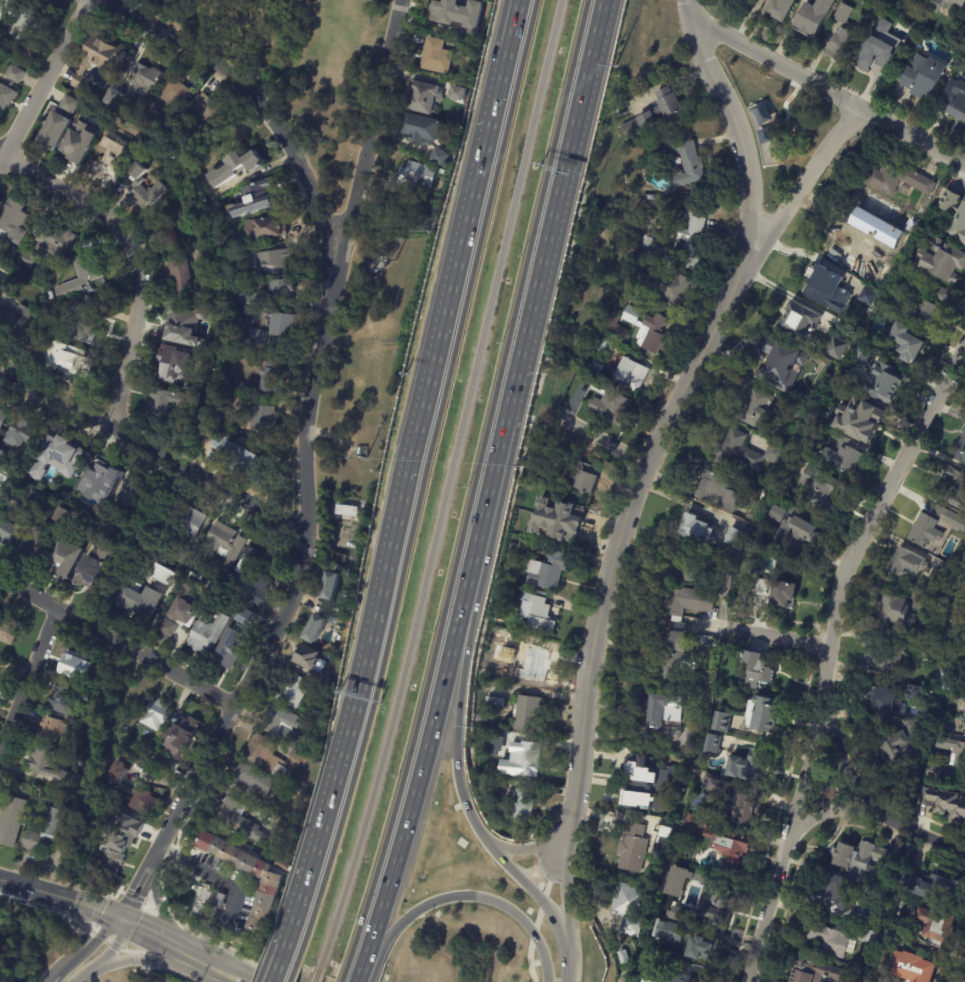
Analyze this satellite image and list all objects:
building: (741, 0)
building: (2, 1)
building: (945, 5)
building: (779, 8)
building: (813, 17)
building: (459, 18)
building: (31, 22)
building: (881, 25)
building: (840, 35)
building: (960, 40)
building: (875, 50)
building: (434, 57)
building: (98, 58)
park: (294, 68)
building: (17, 75)
building: (919, 76)
road: (43, 78)
building: (147, 80)
road: (830, 91)
building: (116, 93)
building: (457, 94)
building: (177, 95)
building: (420, 98)
building: (6, 99)
building: (955, 104)
road: (261, 108)
building: (620, 109)
building: (205, 111)
building: (653, 114)
road: (732, 118)
building: (60, 123)
building: (153, 123)
building: (420, 130)
building: (134, 137)
building: (82, 141)
building: (166, 142)
building: (147, 144)
building: (440, 157)
building: (105, 159)
building: (674, 160)
building: (686, 163)
building: (237, 166)
building: (412, 177)
road: (807, 178)
building: (896, 179)
building: (144, 190)
road: (70, 196)
building: (256, 196)
building: (623, 205)
building: (866, 209)
building: (955, 215)
building: (15, 222)
building: (170, 224)
building: (267, 228)
building: (56, 238)
building: (689, 238)
building: (890, 241)
building: (607, 247)
building: (841, 248)
building: (647, 250)
building: (884, 257)
building: (207, 258)
building: (26, 259)
building: (276, 261)
building: (941, 262)
building: (90, 265)
building: (183, 277)
building: (814, 283)
road: (538, 284)
building: (903, 285)
building: (15, 286)
building: (666, 287)
building: (283, 291)
building: (860, 295)
building: (248, 298)
building: (932, 307)
building: (15, 317)
building: (86, 320)
building: (612, 321)
building: (799, 321)
building: (181, 324)
building: (282, 325)
building: (644, 330)
road: (129, 336)
building: (259, 337)
building: (37, 340)
building: (902, 344)
building: (597, 345)
building: (835, 349)
building: (861, 355)
building: (69, 360)
building: (235, 364)
building: (777, 364)
building: (178, 365)
building: (273, 376)
building: (629, 376)
building: (883, 382)
building: (239, 383)
building: (581, 384)
building: (172, 404)
building: (609, 408)
building: (755, 409)
road: (85, 410)
building: (808, 416)
building: (264, 419)
building: (4, 421)
building: (858, 421)
building: (27, 433)
building: (210, 434)
road: (599, 439)
building: (961, 449)
building: (742, 453)
building: (841, 455)
building: (5, 458)
building: (64, 459)
building: (240, 459)
road: (180, 465)
road: (405, 476)
road: (306, 477)
building: (584, 477)
road: (423, 480)
road: (473, 481)
building: (99, 482)
building: (952, 487)
railway: (444, 488)
building: (715, 492)
building: (817, 493)
building: (137, 496)
building: (36, 499)
road: (247, 504)
building: (351, 511)
building: (778, 513)
building: (60, 515)
building: (189, 521)
building: (556, 521)
road: (625, 521)
building: (929, 523)
building: (96, 524)
building: (10, 529)
building: (694, 530)
building: (800, 535)
building: (106, 536)
building: (732, 537)
building: (38, 540)
building: (223, 546)
building: (67, 557)
building: (342, 559)
building: (907, 564)
building: (958, 564)
building: (684, 565)
building: (95, 567)
building: (263, 567)
building: (545, 569)
building: (511, 571)
building: (945, 575)
building: (171, 578)
building: (722, 580)
building: (964, 585)
building: (762, 587)
building: (200, 588)
building: (334, 588)
building: (781, 595)
building: (263, 599)
road: (47, 600)
building: (144, 602)
building: (684, 602)
building: (182, 612)
building: (535, 612)
building: (892, 613)
building: (345, 614)
building: (246, 619)
building: (176, 622)
building: (319, 628)
building: (698, 630)
building: (10, 631)
road: (100, 631)
building: (208, 632)
road: (777, 638)
building: (700, 640)
building: (235, 644)
building: (962, 647)
road: (832, 652)
building: (672, 658)
building: (889, 660)
building: (313, 662)
building: (532, 664)
road: (171, 669)
building: (756, 669)
building: (77, 672)
road: (29, 677)
building: (944, 683)
building: (294, 687)
building: (92, 697)
building: (65, 702)
building: (886, 702)
building: (491, 705)
road: (458, 708)
building: (653, 709)
building: (525, 713)
building: (156, 714)
building: (762, 714)
building: (963, 716)
building: (477, 718)
building: (719, 721)
building: (283, 723)
building: (940, 724)
building: (56, 731)
building: (185, 732)
building: (901, 740)
building: (691, 743)
building: (710, 744)
building: (493, 745)
building: (273, 758)
building: (959, 758)
building: (521, 760)
building: (167, 763)
building: (747, 766)
road: (422, 767)
building: (54, 768)
road: (844, 769)
building: (119, 773)
building: (253, 779)
building: (640, 782)
building: (717, 784)
building: (485, 785)
building: (67, 794)
building: (944, 802)
building: (146, 803)
building: (522, 805)
road: (835, 807)
building: (742, 809)
building: (13, 822)
building: (241, 822)
building: (964, 825)
road: (554, 832)
building: (125, 833)
building: (46, 834)
road: (921, 834)
building: (719, 839)
road: (569, 846)
building: (632, 848)
road: (512, 850)
building: (855, 857)
building: (114, 864)
building: (283, 864)
road: (208, 869)
road: (543, 870)
building: (272, 882)
building: (930, 887)
building: (832, 892)
road: (532, 893)
building: (718, 896)
building: (216, 897)
road: (467, 897)
road: (61, 898)
road: (157, 907)
building: (630, 908)
road: (565, 913)
traffic signals: (121, 921)
building: (3, 925)
building: (936, 926)
road: (83, 927)
road: (534, 928)
building: (671, 931)
building: (892, 936)
road: (98, 937)
building: (836, 940)
road: (165, 943)
building: (643, 943)
building: (703, 949)
road: (111, 950)
building: (622, 957)
road: (149, 961)
road: (277, 965)
road: (60, 967)
road: (567, 967)
road: (293, 970)
road: (344, 970)
building: (919, 971)
road: (360, 972)
building: (814, 972)
building: (689, 973)
road: (224, 974)
road: (84, 977)
railway: (314, 978)

